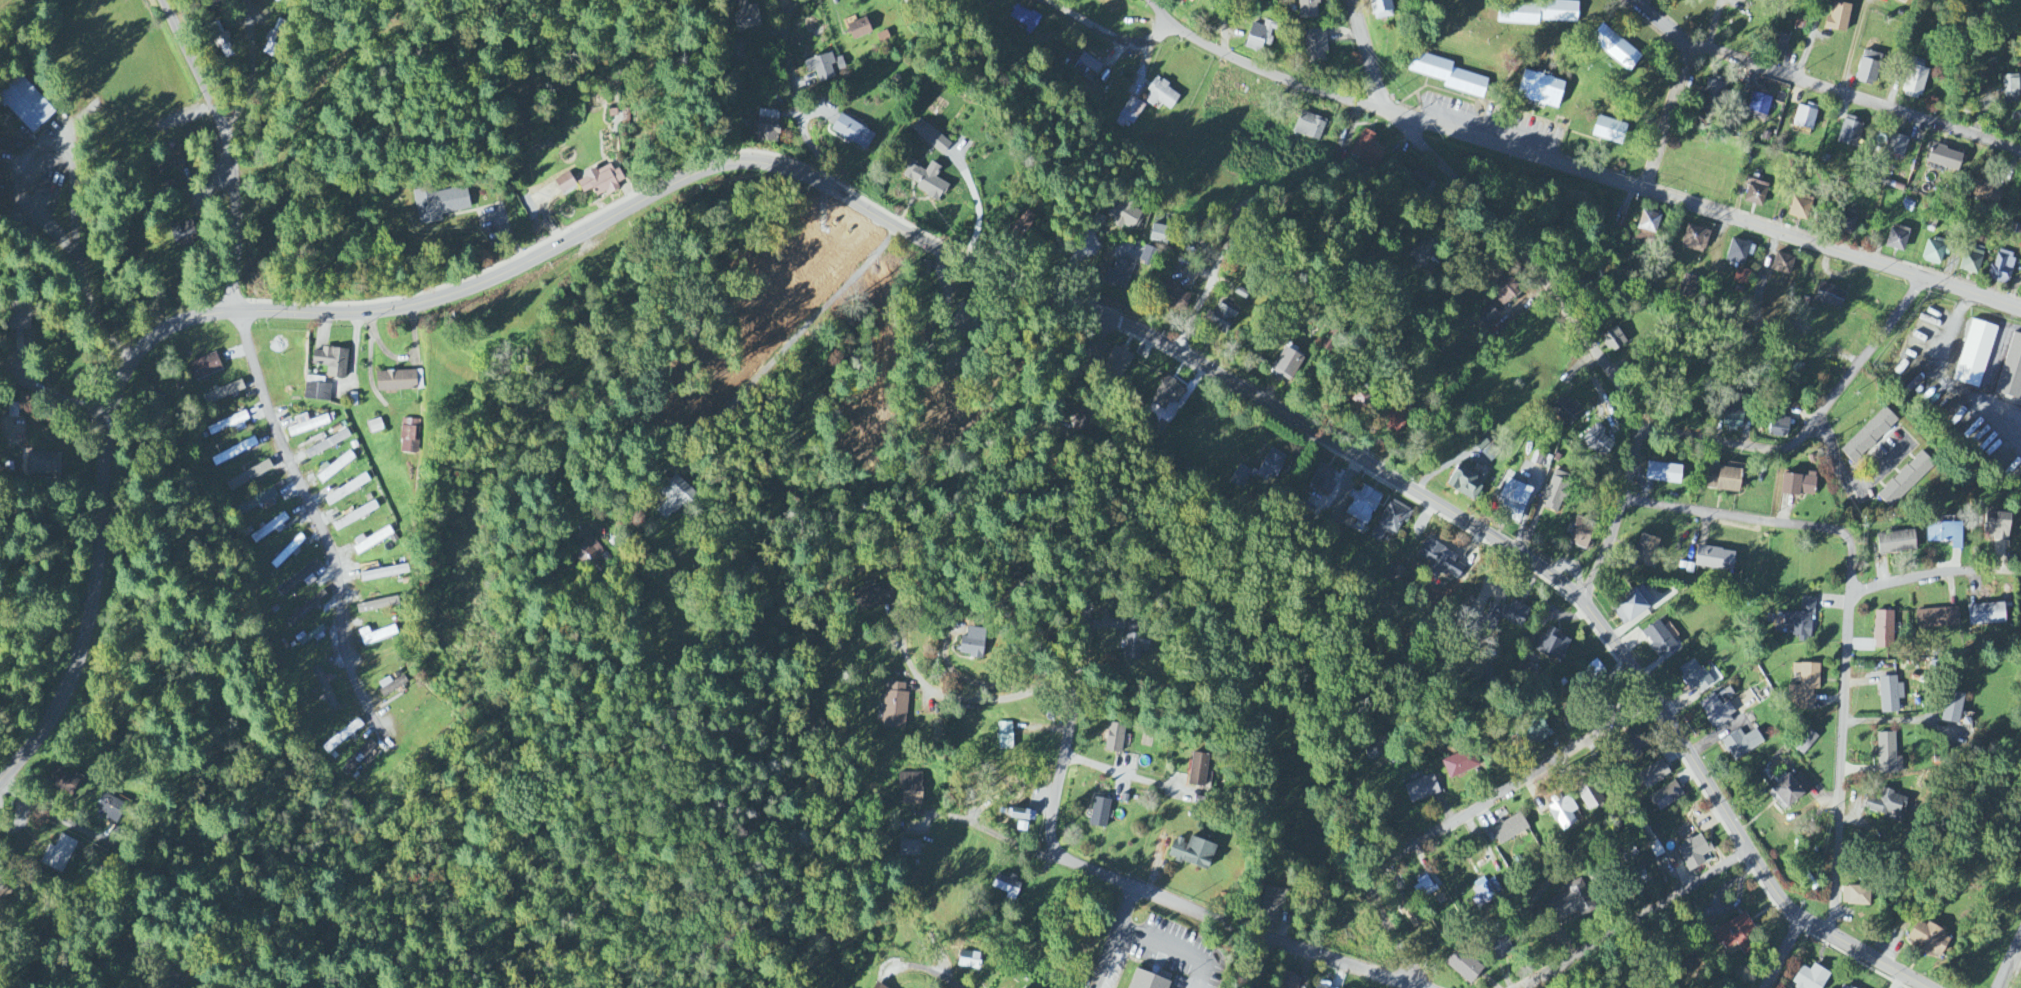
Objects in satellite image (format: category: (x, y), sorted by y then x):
building: (1189, 1)
building: (1901, 1)
building: (1113, 4)
road: (1160, 9)
building: (1308, 9)
building: (1381, 9)
building: (1535, 13)
building: (746, 17)
building: (1838, 17)
building: (1025, 19)
road: (1714, 24)
building: (1801, 24)
road: (1660, 27)
building: (858, 29)
road: (1107, 34)
building: (1260, 36)
road: (1811, 39)
building: (221, 41)
building: (1779, 44)
building: (1317, 45)
road: (1853, 45)
building: (1615, 48)
road: (1369, 55)
road: (252, 67)
building: (825, 67)
building: (1086, 68)
building: (1868, 68)
building: (1447, 75)
road: (1787, 75)
building: (1914, 82)
building: (2010, 87)
building: (1539, 89)
road: (794, 90)
building: (1714, 93)
building: (1161, 95)
building: (27, 105)
building: (1759, 105)
building: (1130, 114)
building: (1804, 118)
building: (766, 126)
building: (1310, 127)
building: (1609, 131)
building: (852, 132)
building: (1850, 132)
building: (934, 136)
building: (1895, 146)
building: (1368, 148)
road: (229, 149)
building: (1944, 159)
road: (1591, 173)
building: (929, 180)
building: (600, 181)
building: (564, 184)
road: (1264, 186)
building: (1755, 193)
building: (1986, 194)
building: (439, 204)
road: (977, 204)
building: (1800, 208)
building: (1124, 212)
road: (547, 215)
building: (1095, 220)
building: (1846, 222)
building: (1021, 223)
building: (1647, 227)
building: (1157, 234)
building: (183, 235)
road: (514, 236)
building: (1695, 239)
building: (1897, 239)
road: (836, 241)
building: (1737, 253)
building: (1421, 254)
building: (1933, 254)
road: (753, 255)
road: (79, 256)
building: (1146, 256)
building: (1971, 261)
building: (1782, 265)
building: (2002, 265)
building: (1119, 270)
building: (1742, 277)
building: (1689, 287)
building: (1505, 291)
building: (1829, 296)
building: (1175, 300)
road: (260, 312)
building: (1220, 317)
building: (1487, 317)
building: (964, 318)
building: (19, 328)
road: (1582, 335)
building: (1614, 340)
building: (1975, 354)
road: (402, 358)
building: (331, 362)
building: (1117, 362)
building: (1284, 363)
road: (822, 366)
road: (766, 367)
building: (204, 368)
road: (1209, 369)
building: (2011, 371)
road: (371, 372)
building: (395, 382)
building: (317, 390)
road: (55, 393)
building: (223, 393)
building: (1167, 394)
building: (1358, 397)
building: (1568, 412)
building: (1733, 412)
building: (1397, 416)
building: (1084, 420)
road: (1814, 421)
building: (230, 425)
building: (307, 426)
building: (1779, 427)
building: (16, 429)
building: (1869, 436)
building: (410, 437)
building: (1597, 443)
building: (234, 452)
building: (43, 464)
building: (335, 468)
building: (1258, 470)
building: (1663, 474)
building: (248, 476)
building: (1322, 480)
building: (1722, 480)
building: (1906, 481)
building: (1464, 483)
road: (1856, 484)
building: (1798, 485)
building: (346, 491)
building: (1556, 492)
building: (675, 499)
building: (1511, 499)
building: (1362, 506)
road: (1737, 514)
building: (354, 517)
building: (1391, 520)
building: (1996, 527)
road: (322, 528)
building: (269, 529)
building: (1945, 535)
building: (1580, 536)
building: (371, 542)
building: (1896, 543)
building: (1645, 550)
building: (287, 552)
building: (589, 554)
building: (1441, 560)
building: (1714, 560)
building: (381, 574)
road: (1090, 575)
road: (1934, 575)
building: (299, 581)
building: (869, 599)
building: (1631, 605)
building: (306, 610)
building: (1506, 615)
building: (1985, 615)
building: (1937, 619)
building: (1800, 621)
building: (1883, 630)
building: (312, 636)
building: (1658, 639)
building: (1133, 642)
building: (971, 644)
building: (1553, 646)
building: (1593, 673)
building: (1694, 676)
road: (969, 681)
building: (391, 686)
building: (1805, 687)
building: (325, 690)
building: (1890, 695)
road: (958, 697)
building: (894, 707)
building: (1952, 709)
building: (1717, 712)
building: (1533, 735)
building: (342, 737)
building: (1005, 737)
road: (1843, 737)
building: (1115, 739)
building: (1804, 742)
building: (1741, 744)
building: (1371, 754)
building: (1888, 756)
building: (358, 758)
building: (1460, 766)
building: (1198, 771)
building: (1652, 775)
road: (1135, 777)
building: (62, 782)
building: (911, 790)
building: (1421, 790)
building: (1788, 790)
building: (1589, 796)
building: (1665, 798)
building: (1887, 806)
building: (111, 808)
building: (1562, 813)
building: (1099, 814)
building: (1021, 816)
road: (1461, 817)
road: (1729, 818)
road: (1001, 824)
building: (1509, 830)
building: (907, 850)
building: (1191, 854)
building: (1692, 854)
building: (58, 855)
road: (173, 865)
building: (1007, 887)
building: (1423, 889)
building: (1486, 892)
building: (1856, 897)
building: (1574, 902)
building: (1273, 906)
building: (1409, 915)
road: (1635, 918)
road: (1239, 929)
road: (1122, 932)
building: (1734, 935)
road: (1113, 937)
building: (1928, 939)
road: (1178, 949)
building: (1500, 949)
parking lot: (1172, 953)
road: (1787, 955)
building: (968, 961)
building: (1463, 967)
road: (2013, 973)
building: (1810, 978)
building: (1148, 980)
building: (1289, 981)
building: (168, 985)
building: (874, 986)
building: (1322, 986)
building: (1843, 987)

